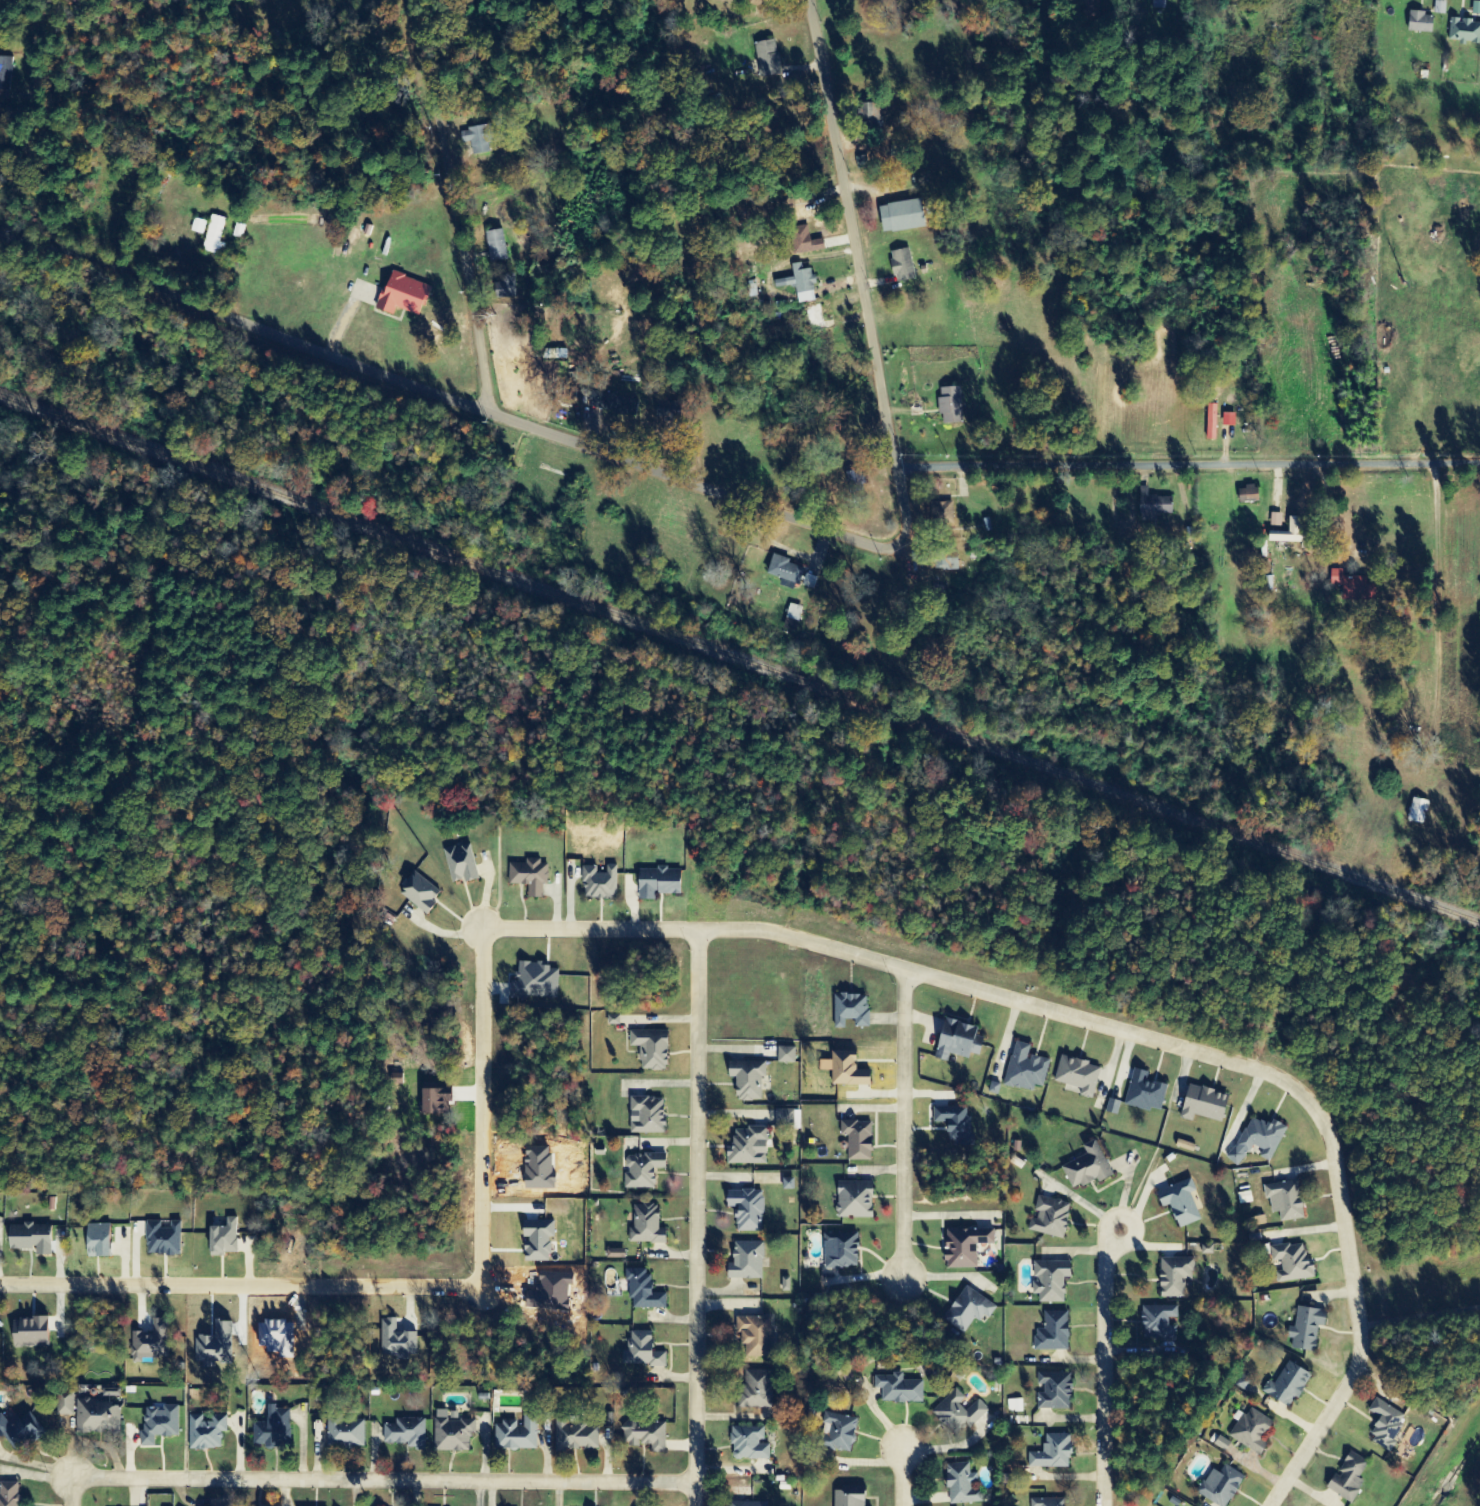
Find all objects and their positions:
building: (1438, 9)
building: (1475, 10)
building: (1418, 24)
building: (1464, 33)
building: (766, 59)
building: (4, 74)
road: (65, 117)
building: (870, 118)
building: (476, 140)
road: (465, 203)
building: (899, 217)
building: (197, 227)
building: (214, 237)
building: (802, 242)
building: (494, 247)
building: (900, 267)
road: (875, 277)
building: (798, 285)
building: (505, 287)
building: (400, 296)
road: (451, 388)
building: (612, 405)
building: (948, 406)
building: (665, 413)
building: (1209, 423)
road: (1196, 455)
building: (1245, 495)
building: (1151, 507)
building: (942, 513)
building: (1274, 521)
building: (1286, 534)
building: (942, 562)
building: (782, 573)
building: (1352, 588)
building: (792, 614)
road: (1468, 630)
railway: (739, 658)
building: (1415, 812)
building: (460, 865)
building: (528, 878)
building: (598, 884)
building: (656, 884)
building: (417, 895)
building: (532, 983)
building: (849, 1011)
road: (1117, 1029)
building: (956, 1042)
building: (649, 1050)
building: (785, 1056)
building: (1024, 1070)
building: (843, 1071)
building: (1076, 1077)
building: (746, 1081)
building: (1143, 1094)
building: (430, 1101)
building: (1200, 1106)
building: (645, 1117)
building: (786, 1120)
building: (953, 1124)
road: (904, 1126)
building: (855, 1141)
building: (1256, 1141)
building: (747, 1148)
building: (1085, 1169)
building: (641, 1172)
building: (786, 1185)
building: (852, 1201)
building: (1283, 1201)
building: (1178, 1204)
building: (745, 1210)
road: (698, 1217)
road: (1130, 1218)
building: (1048, 1219)
building: (644, 1227)
building: (27, 1239)
building: (162, 1240)
building: (222, 1240)
building: (95, 1241)
building: (535, 1242)
building: (963, 1248)
building: (839, 1252)
building: (614, 1255)
building: (745, 1262)
building: (1290, 1264)
building: (1173, 1277)
building: (1049, 1282)
road: (418, 1284)
building: (784, 1285)
building: (641, 1292)
building: (966, 1311)
road: (1420, 1319)
building: (1156, 1323)
building: (1304, 1330)
building: (1051, 1333)
building: (28, 1334)
building: (753, 1337)
building: (395, 1342)
building: (150, 1344)
building: (640, 1352)
road: (1106, 1375)
building: (1285, 1386)
building: (897, 1390)
building: (754, 1391)
building: (1053, 1391)
building: (63, 1406)
building: (1014, 1407)
building: (97, 1414)
building: (956, 1414)
building: (158, 1425)
building: (1384, 1425)
building: (271, 1429)
building: (204, 1432)
building: (19, 1433)
building: (451, 1433)
building: (344, 1434)
building: (405, 1434)
building: (837, 1434)
building: (646, 1436)
building: (574, 1437)
building: (1220, 1444)
building: (747, 1445)
building: (1051, 1454)
road: (904, 1478)
road: (385, 1480)
building: (1346, 1480)
building: (959, 1486)
building: (1218, 1487)
road: (73, 1491)
building: (9, 1494)
building: (846, 1499)
building: (1046, 1502)
building: (746, 1504)

